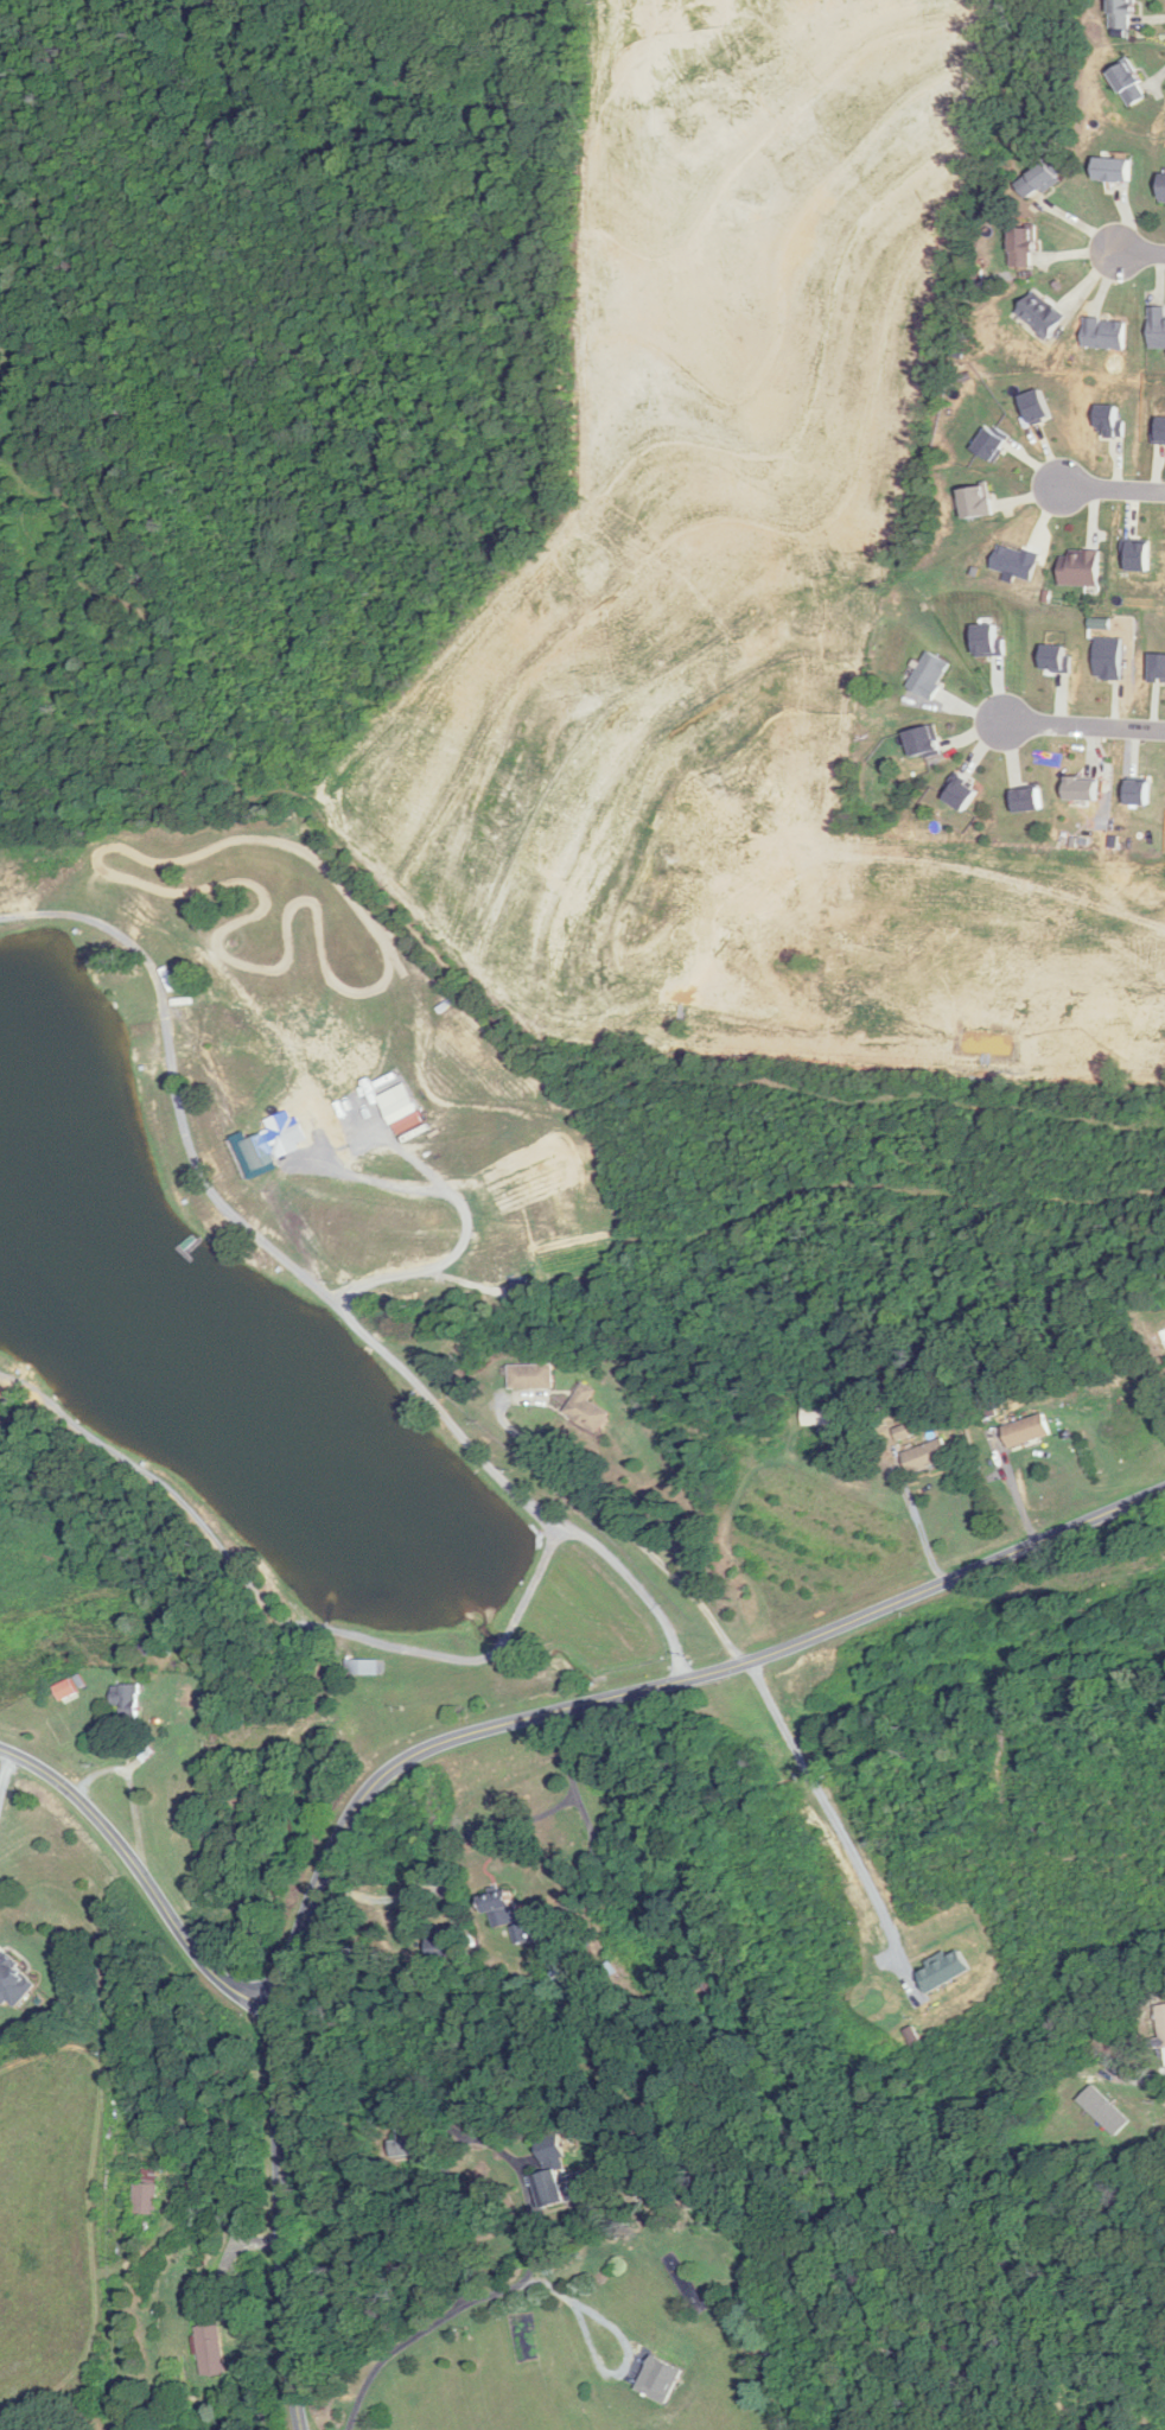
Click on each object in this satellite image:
building: (1122, 13)
building: (1129, 84)
building: (1115, 170)
building: (1043, 178)
building: (1163, 189)
building: (1024, 246)
road: (1140, 254)
building: (1042, 314)
building: (1158, 327)
building: (1106, 333)
road: (1110, 490)
building: (979, 503)
building: (1081, 568)
road: (1081, 724)
building: (260, 1153)
road: (355, 1327)
building: (531, 1378)
building: (587, 1411)
building: (820, 1417)
building: (1027, 1432)
building: (905, 1433)
building: (993, 1436)
building: (928, 1457)
road: (913, 1514)
road: (623, 1526)
building: (65, 1690)
building: (126, 1700)
road: (451, 1738)
road: (2, 1760)
road: (821, 1821)
road: (491, 1841)
road: (139, 1883)
building: (501, 1909)
building: (517, 1934)
building: (440, 1945)
building: (13, 1983)
building: (1159, 2029)
building: (1109, 2114)
building: (424, 2136)
building: (561, 2188)
building: (146, 2193)
road: (448, 2311)
road: (613, 2346)
building: (209, 2349)

